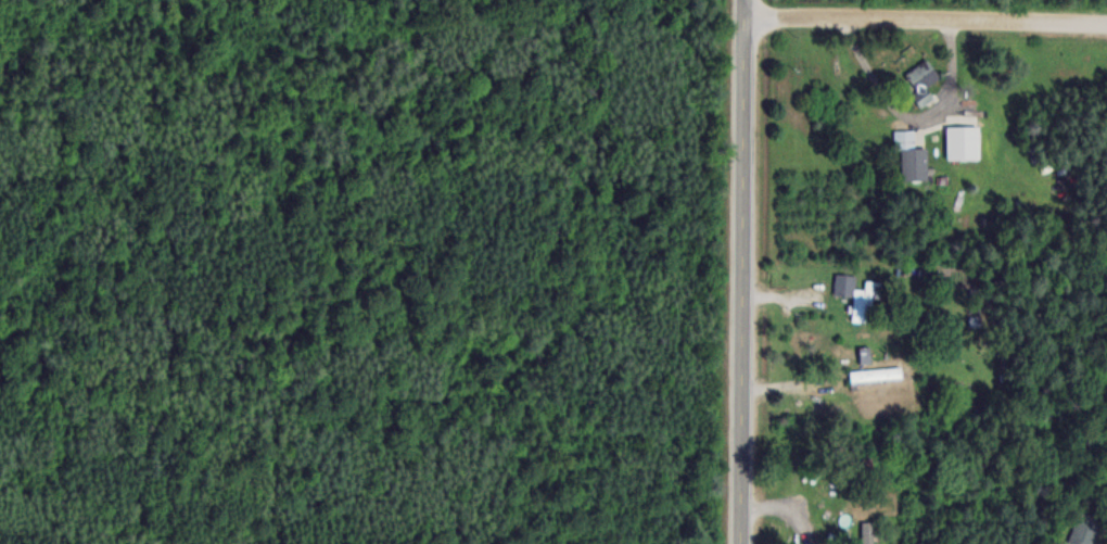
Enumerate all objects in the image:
road: (926, 17)
building: (921, 80)
building: (911, 155)
road: (742, 271)
building: (844, 284)
building: (875, 374)
building: (1084, 529)
building: (867, 532)

